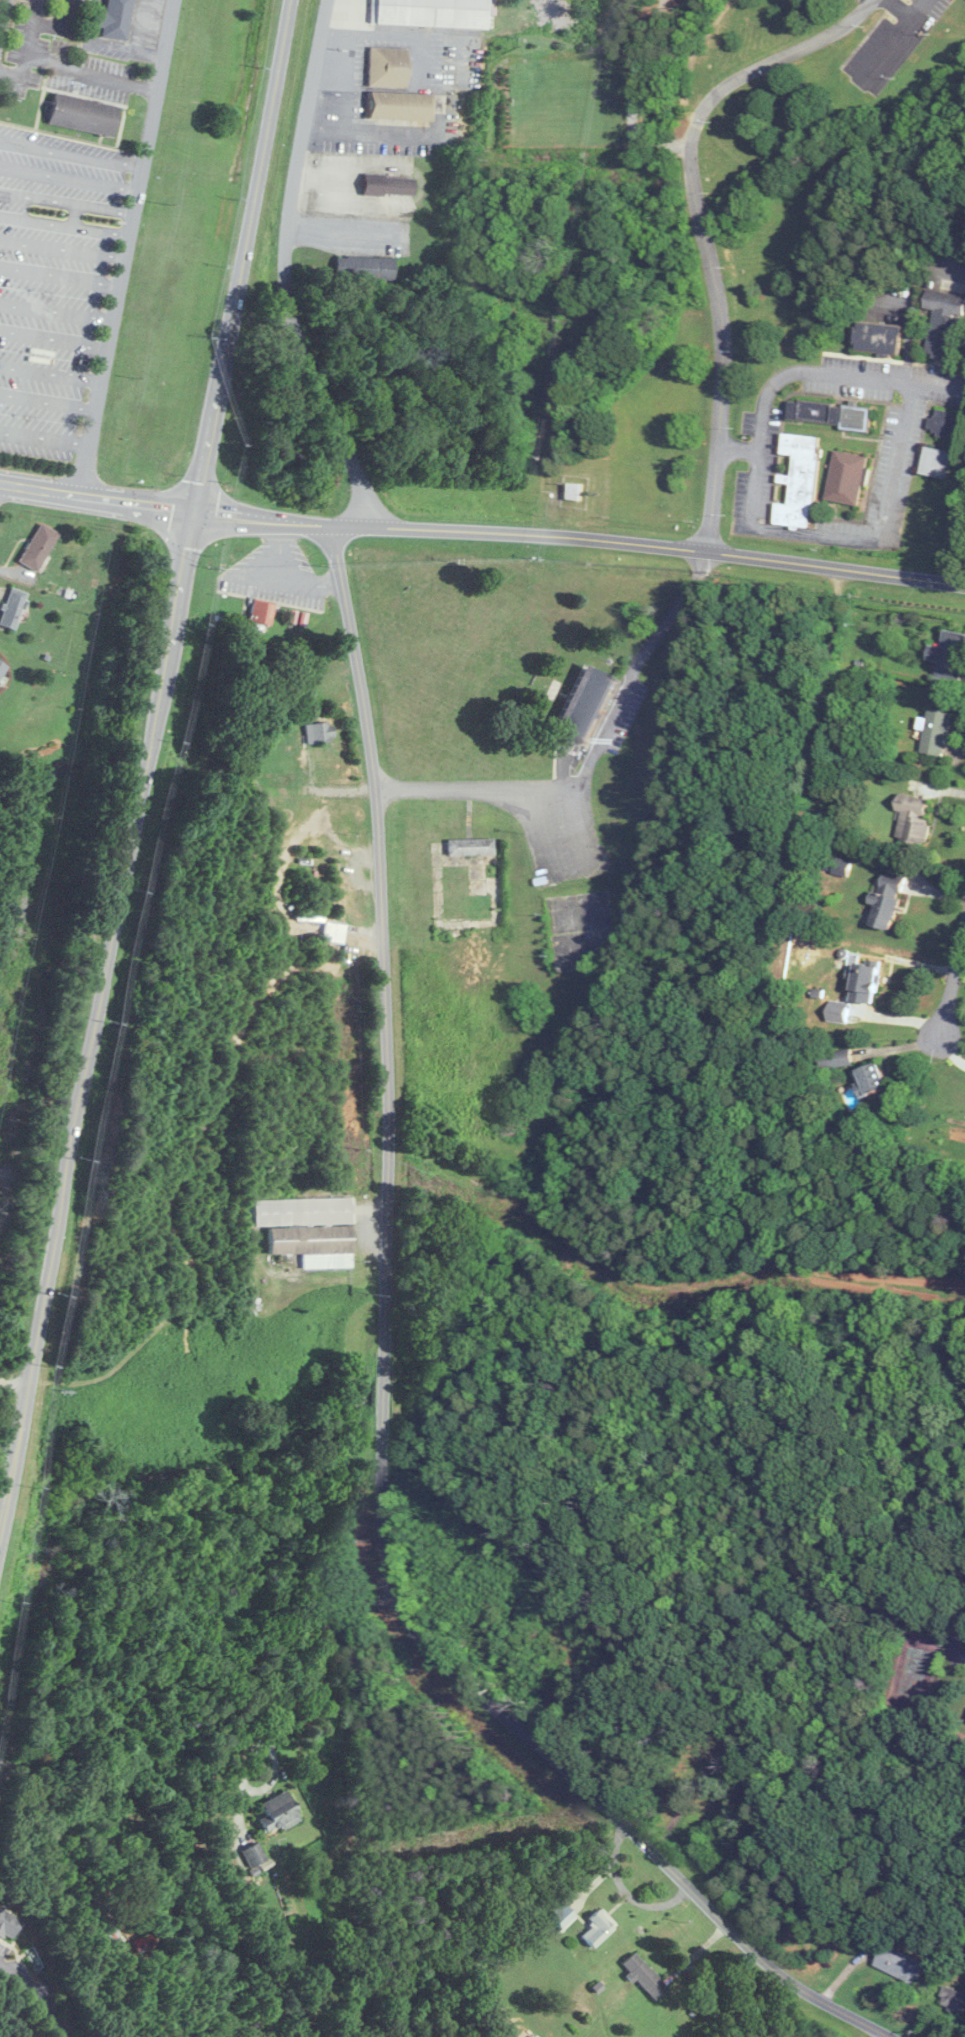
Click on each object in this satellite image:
road: (907, 11)
building: (431, 13)
road: (88, 19)
building: (115, 19)
road: (4, 23)
road: (140, 25)
road: (34, 27)
road: (126, 47)
road: (74, 67)
building: (388, 67)
building: (400, 106)
building: (84, 114)
road: (371, 130)
road: (71, 154)
road: (69, 177)
building: (390, 185)
road: (67, 202)
road: (65, 225)
road: (702, 227)
road: (127, 247)
road: (63, 249)
building: (365, 266)
road: (291, 267)
road: (60, 277)
road: (57, 310)
building: (946, 324)
building: (882, 339)
road: (54, 340)
road: (51, 373)
road: (49, 401)
building: (832, 415)
building: (948, 423)
road: (897, 437)
road: (46, 439)
building: (939, 463)
building: (850, 478)
building: (802, 481)
building: (577, 492)
road: (97, 496)
traffic signals: (194, 510)
road: (580, 541)
building: (39, 547)
road: (284, 577)
building: (14, 609)
building: (262, 612)
building: (951, 657)
building: (2, 667)
road: (822, 700)
building: (589, 704)
building: (320, 731)
building: (939, 732)
road: (151, 741)
road: (591, 755)
building: (751, 805)
building: (915, 824)
building: (472, 846)
building: (892, 899)
building: (335, 932)
road: (960, 967)
road: (951, 981)
building: (870, 983)
building: (841, 1012)
road: (952, 1051)
building: (839, 1059)
building: (876, 1080)
building: (310, 1230)
road: (14, 1382)
road: (382, 1392)
road: (5, 1507)
road: (310, 1656)
road: (783, 1676)
building: (280, 1812)
building: (255, 1855)
building: (562, 1915)
building: (9, 1924)
building: (599, 1927)
building: (904, 1965)
building: (645, 1976)
road: (36, 1997)
building: (954, 2000)

